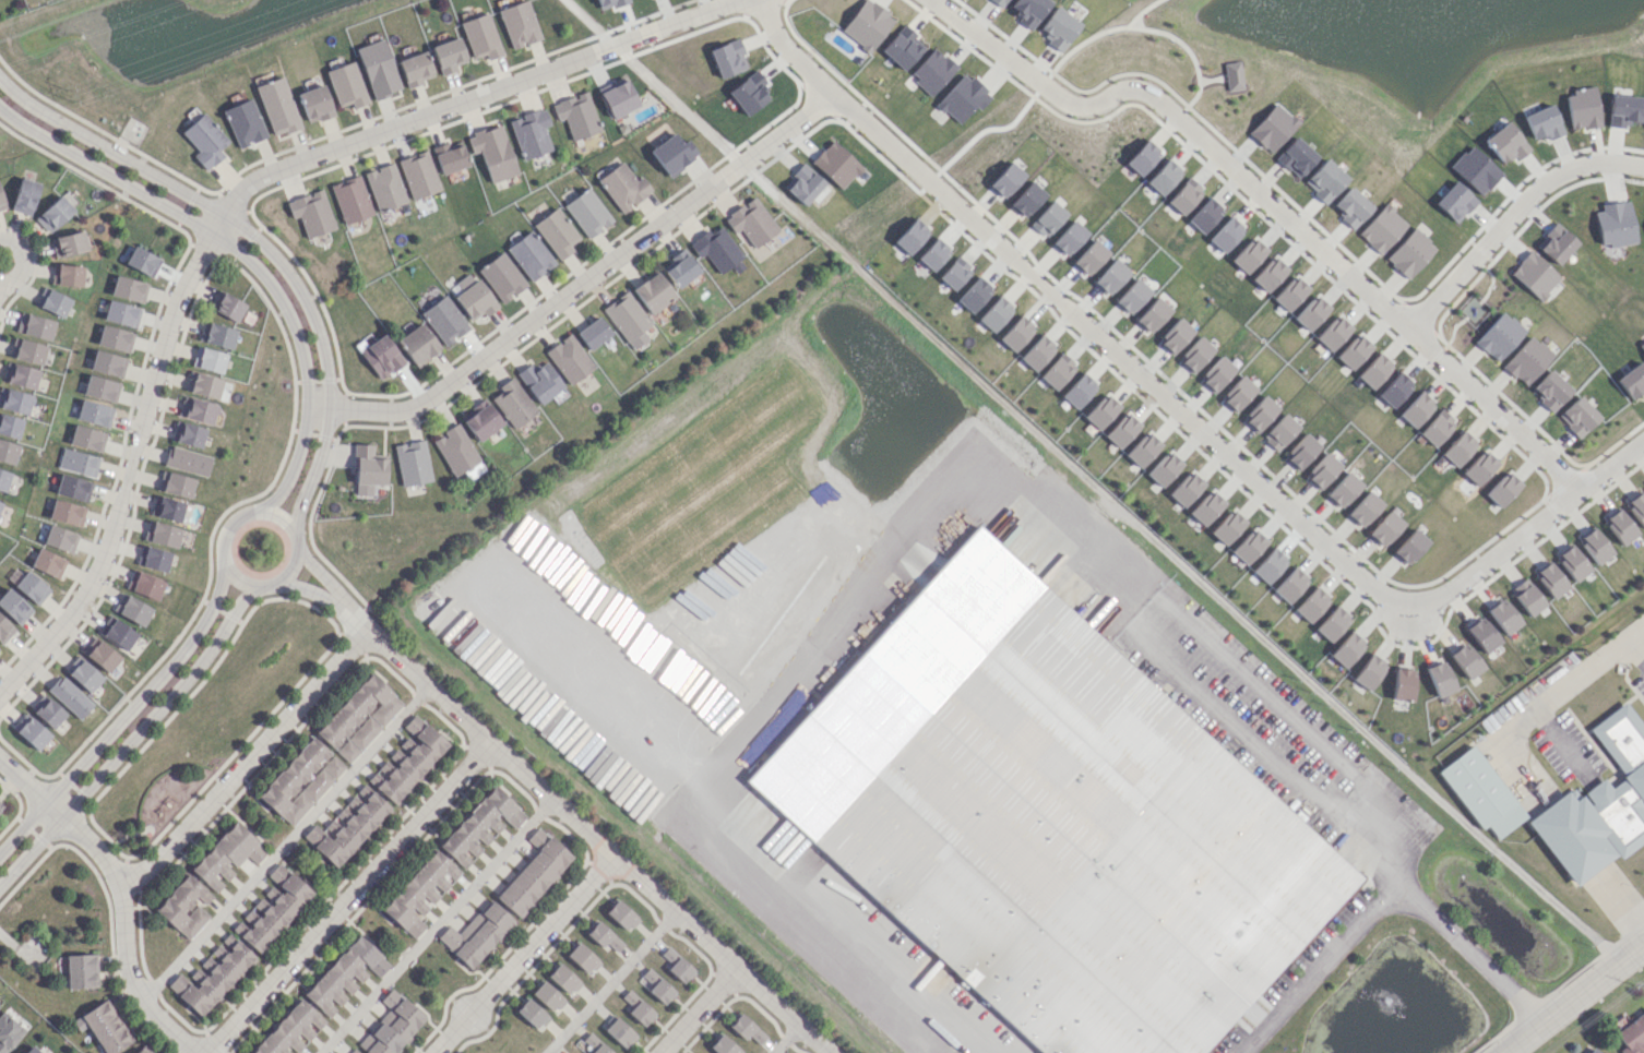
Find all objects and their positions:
building: (999, 2)
building: (608, 3)
building: (1029, 11)
building: (519, 24)
building: (866, 25)
building: (1058, 28)
building: (480, 36)
building: (902, 48)
building: (448, 56)
building: (727, 58)
building: (378, 69)
building: (415, 69)
building: (931, 71)
building: (1232, 75)
road: (650, 82)
building: (346, 85)
building: (748, 93)
power tower: (69, 95)
road: (1154, 95)
road: (470, 98)
building: (618, 98)
building: (314, 104)
building: (277, 106)
building: (1582, 108)
building: (1622, 110)
building: (575, 115)
building: (243, 122)
building: (1542, 122)
building: (1272, 128)
building: (529, 133)
building: (657, 134)
building: (204, 141)
building: (1505, 143)
building: (492, 152)
building: (672, 154)
building: (449, 157)
building: (1141, 157)
building: (1296, 157)
building: (835, 164)
building: (418, 175)
building: (1163, 177)
building: (1005, 180)
building: (1324, 180)
building: (802, 183)
building: (384, 187)
building: (622, 187)
building: (24, 195)
building: (1183, 195)
building: (350, 200)
building: (1026, 200)
building: (1, 203)
building: (1351, 206)
building: (311, 213)
building: (587, 213)
building: (1205, 215)
building: (1047, 218)
road: (1513, 218)
building: (751, 222)
building: (1615, 224)
building: (1381, 228)
building: (556, 232)
building: (1225, 235)
building: (910, 236)
building: (1068, 238)
building: (68, 243)
road: (259, 243)
building: (1556, 243)
building: (716, 249)
building: (1409, 253)
road: (242, 254)
building: (1248, 254)
building: (529, 255)
building: (1089, 258)
road: (22, 260)
building: (142, 261)
building: (679, 268)
building: (953, 274)
building: (1268, 274)
building: (67, 275)
building: (1534, 275)
building: (501, 277)
building: (1110, 277)
road: (577, 284)
building: (128, 288)
building: (653, 292)
building: (1289, 292)
building: (973, 295)
building: (1131, 296)
building: (475, 300)
building: (52, 301)
road: (1061, 304)
building: (227, 306)
building: (1311, 312)
building: (121, 313)
building: (994, 313)
building: (1152, 314)
building: (444, 320)
building: (627, 320)
building: (36, 326)
building: (1332, 332)
building: (593, 333)
building: (1015, 334)
building: (218, 335)
building: (1175, 336)
building: (1499, 336)
building: (115, 338)
building: (417, 344)
building: (1642, 347)
building: (1353, 350)
building: (28, 351)
building: (1037, 352)
building: (1194, 355)
building: (381, 356)
building: (569, 359)
building: (210, 360)
building: (1527, 360)
building: (107, 363)
building: (1373, 370)
building: (1058, 371)
building: (1216, 373)
building: (21, 375)
road: (1465, 379)
building: (1632, 380)
building: (539, 382)
building: (205, 385)
building: (100, 388)
building: (1394, 388)
building: (1550, 390)
building: (1079, 391)
building: (1237, 394)
building: (14, 400)
building: (513, 403)
building: (1416, 409)
building: (198, 410)
building: (1100, 411)
building: (93, 412)
building: (1259, 414)
building: (1577, 416)
building: (481, 422)
building: (10, 426)
building: (1437, 427)
building: (1121, 430)
building: (1279, 432)
building: (187, 434)
building: (86, 438)
building: (1458, 448)
building: (455, 450)
building: (1142, 450)
building: (8, 452)
building: (1300, 452)
building: (187, 460)
building: (78, 463)
building: (412, 463)
road: (129, 464)
building: (1479, 467)
building: (1164, 468)
building: (367, 470)
building: (473, 470)
building: (1321, 470)
building: (3, 479)
building: (177, 484)
building: (72, 488)
building: (1186, 488)
building: (1502, 488)
building: (1343, 490)
building: (0, 504)
building: (1205, 507)
building: (1636, 507)
building: (167, 508)
building: (1363, 508)
building: (65, 513)
building: (1226, 527)
building: (1619, 527)
building: (1384, 528)
building: (164, 535)
road: (1518, 535)
building: (60, 538)
building: (1248, 546)
building: (1594, 546)
building: (1409, 547)
building: (155, 559)
road: (1180, 562)
building: (47, 563)
building: (1572, 563)
building: (1268, 565)
road: (321, 576)
building: (1550, 579)
road: (918, 582)
road: (253, 584)
building: (145, 585)
building: (1289, 585)
building: (31, 587)
road: (309, 590)
building: (1526, 597)
building: (1311, 605)
building: (13, 607)
building: (131, 609)
building: (1503, 617)
building: (1332, 623)
building: (4, 630)
road: (1408, 631)
building: (117, 633)
building: (1481, 635)
building: (1347, 649)
road: (1636, 654)
building: (100, 655)
building: (1466, 660)
building: (1369, 671)
building: (83, 674)
building: (1440, 678)
parking lot: (1635, 679)
building: (1402, 684)
road: (1572, 690)
road: (613, 695)
building: (69, 696)
road: (1274, 704)
building: (47, 711)
road: (121, 714)
building: (358, 717)
building: (31, 731)
road: (131, 737)
building: (410, 758)
road: (241, 762)
building: (300, 780)
road: (28, 788)
building: (1568, 802)
building: (0, 805)
building: (347, 826)
building: (479, 826)
road: (584, 828)
road: (1572, 839)
road: (285, 842)
building: (1088, 847)
building: (226, 857)
building: (533, 872)
building: (419, 893)
road: (1386, 895)
road: (347, 897)
building: (183, 907)
building: (275, 909)
building: (620, 916)
road: (437, 925)
building: (476, 934)
road: (123, 936)
building: (605, 937)
road: (525, 954)
building: (581, 958)
building: (675, 964)
building: (81, 970)
building: (345, 974)
building: (212, 977)
building: (562, 979)
road: (612, 982)
building: (655, 985)
building: (548, 997)
road: (1574, 1000)
building: (635, 1007)
road: (696, 1010)
building: (532, 1014)
building: (392, 1026)
building: (106, 1027)
building: (746, 1029)
building: (290, 1030)
building: (618, 1031)
building: (8, 1032)
building: (1631, 1036)
road: (784, 1038)
building: (592, 1044)
building: (723, 1045)
building: (31, 1050)
building: (143, 1050)
building: (354, 1051)
building: (1591, 1051)

